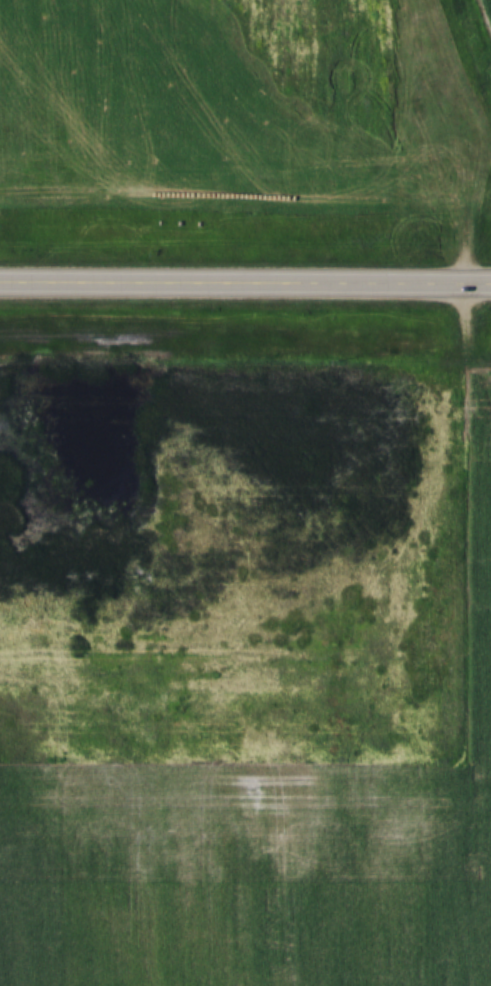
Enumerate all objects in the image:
road: (245, 284)

